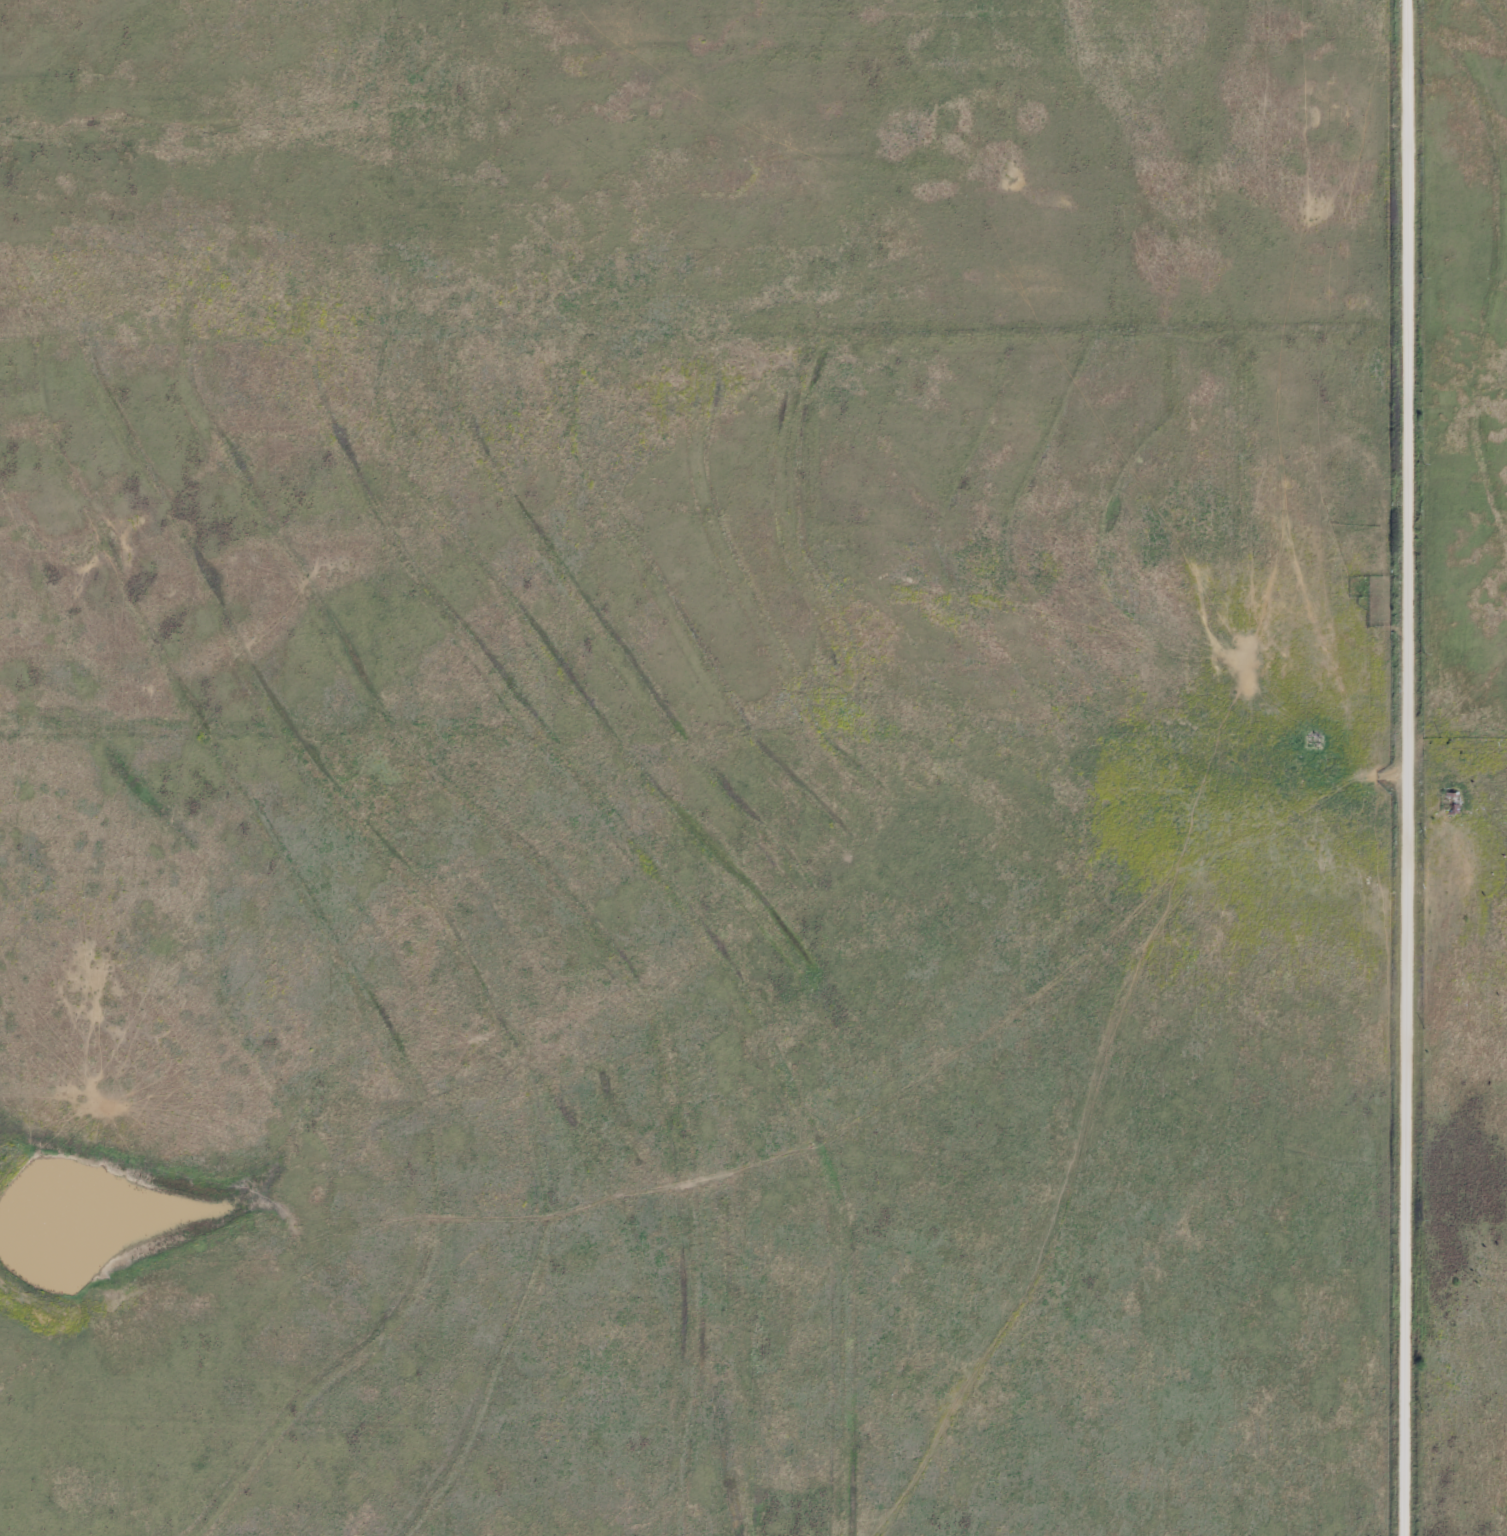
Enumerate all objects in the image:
road: (1410, 768)
building: (1445, 801)

